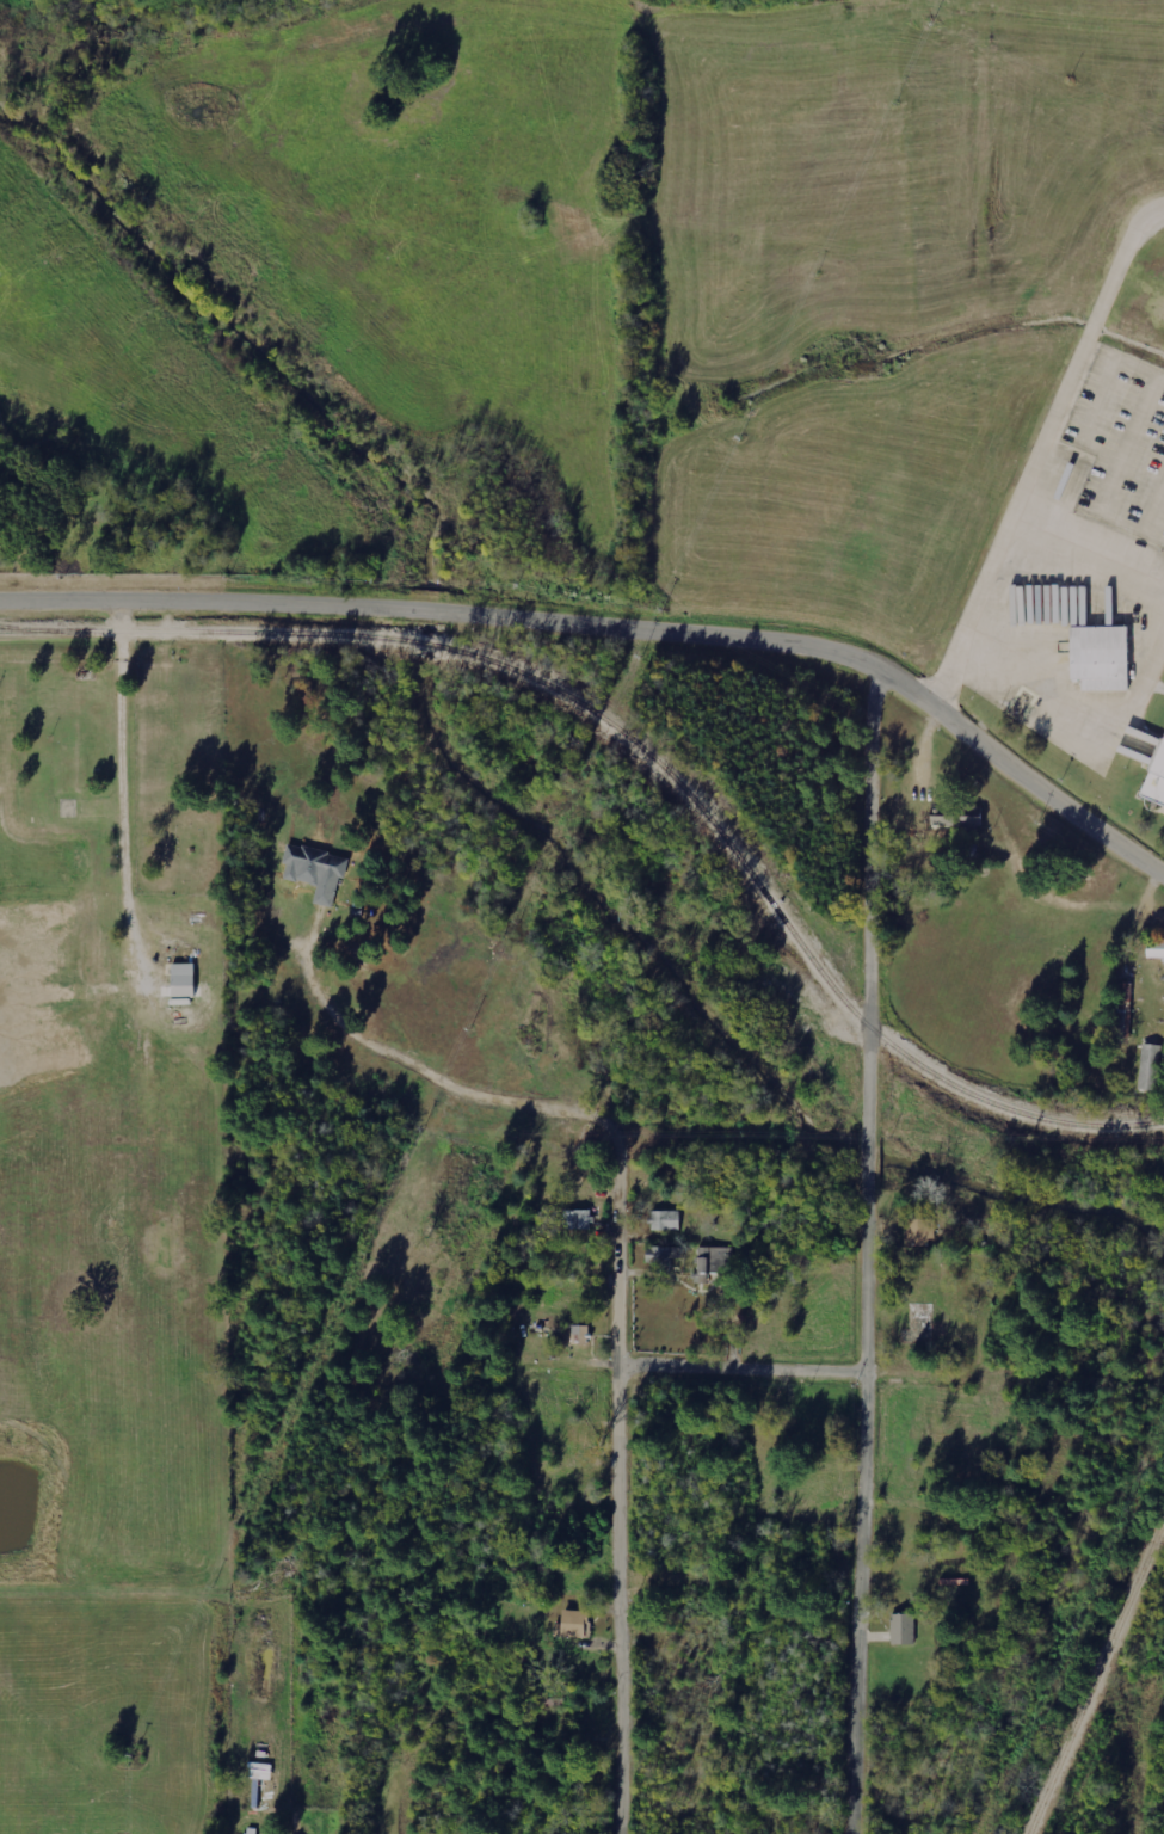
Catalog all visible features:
road: (1037, 449)
road: (1090, 541)
road: (618, 620)
railway: (18, 628)
building: (1096, 636)
road: (1088, 715)
railway: (646, 755)
building: (1154, 786)
building: (949, 823)
building: (315, 872)
building: (1156, 949)
building: (183, 980)
building: (1121, 1013)
building: (1151, 1066)
building: (579, 1219)
building: (666, 1220)
building: (922, 1231)
road: (869, 1251)
building: (661, 1257)
building: (718, 1260)
building: (580, 1335)
road: (744, 1362)
road: (622, 1494)
building: (571, 1624)
building: (904, 1629)
railway: (1095, 1674)

